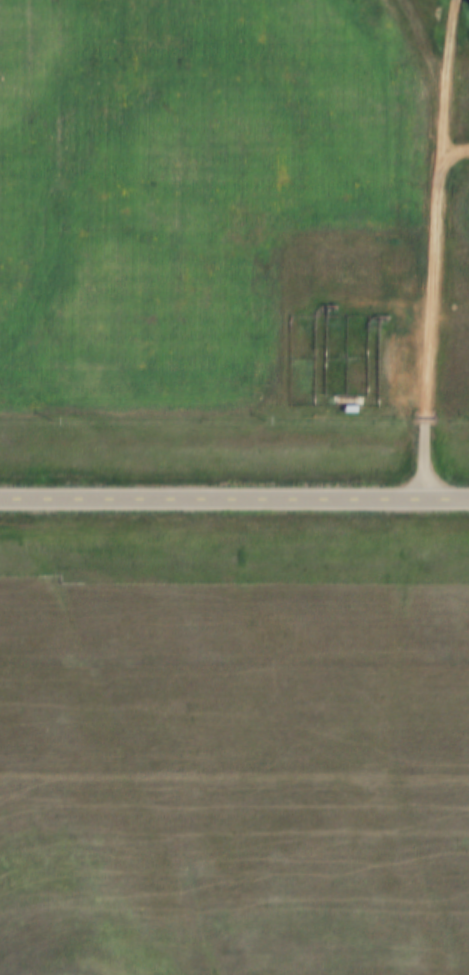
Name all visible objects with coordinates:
road: (447, 84)
road: (431, 322)
road: (234, 505)

